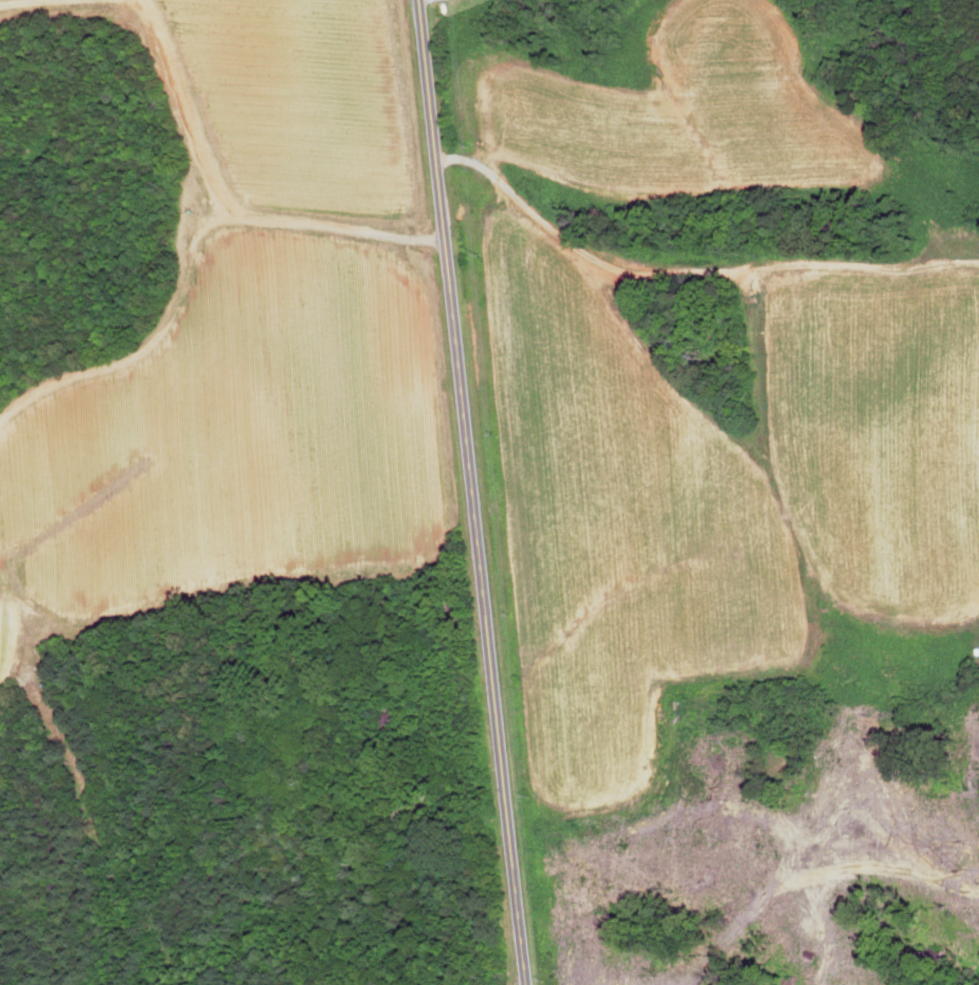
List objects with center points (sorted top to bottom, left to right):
road: (143, 8)
road: (202, 145)
road: (692, 265)
road: (474, 492)

